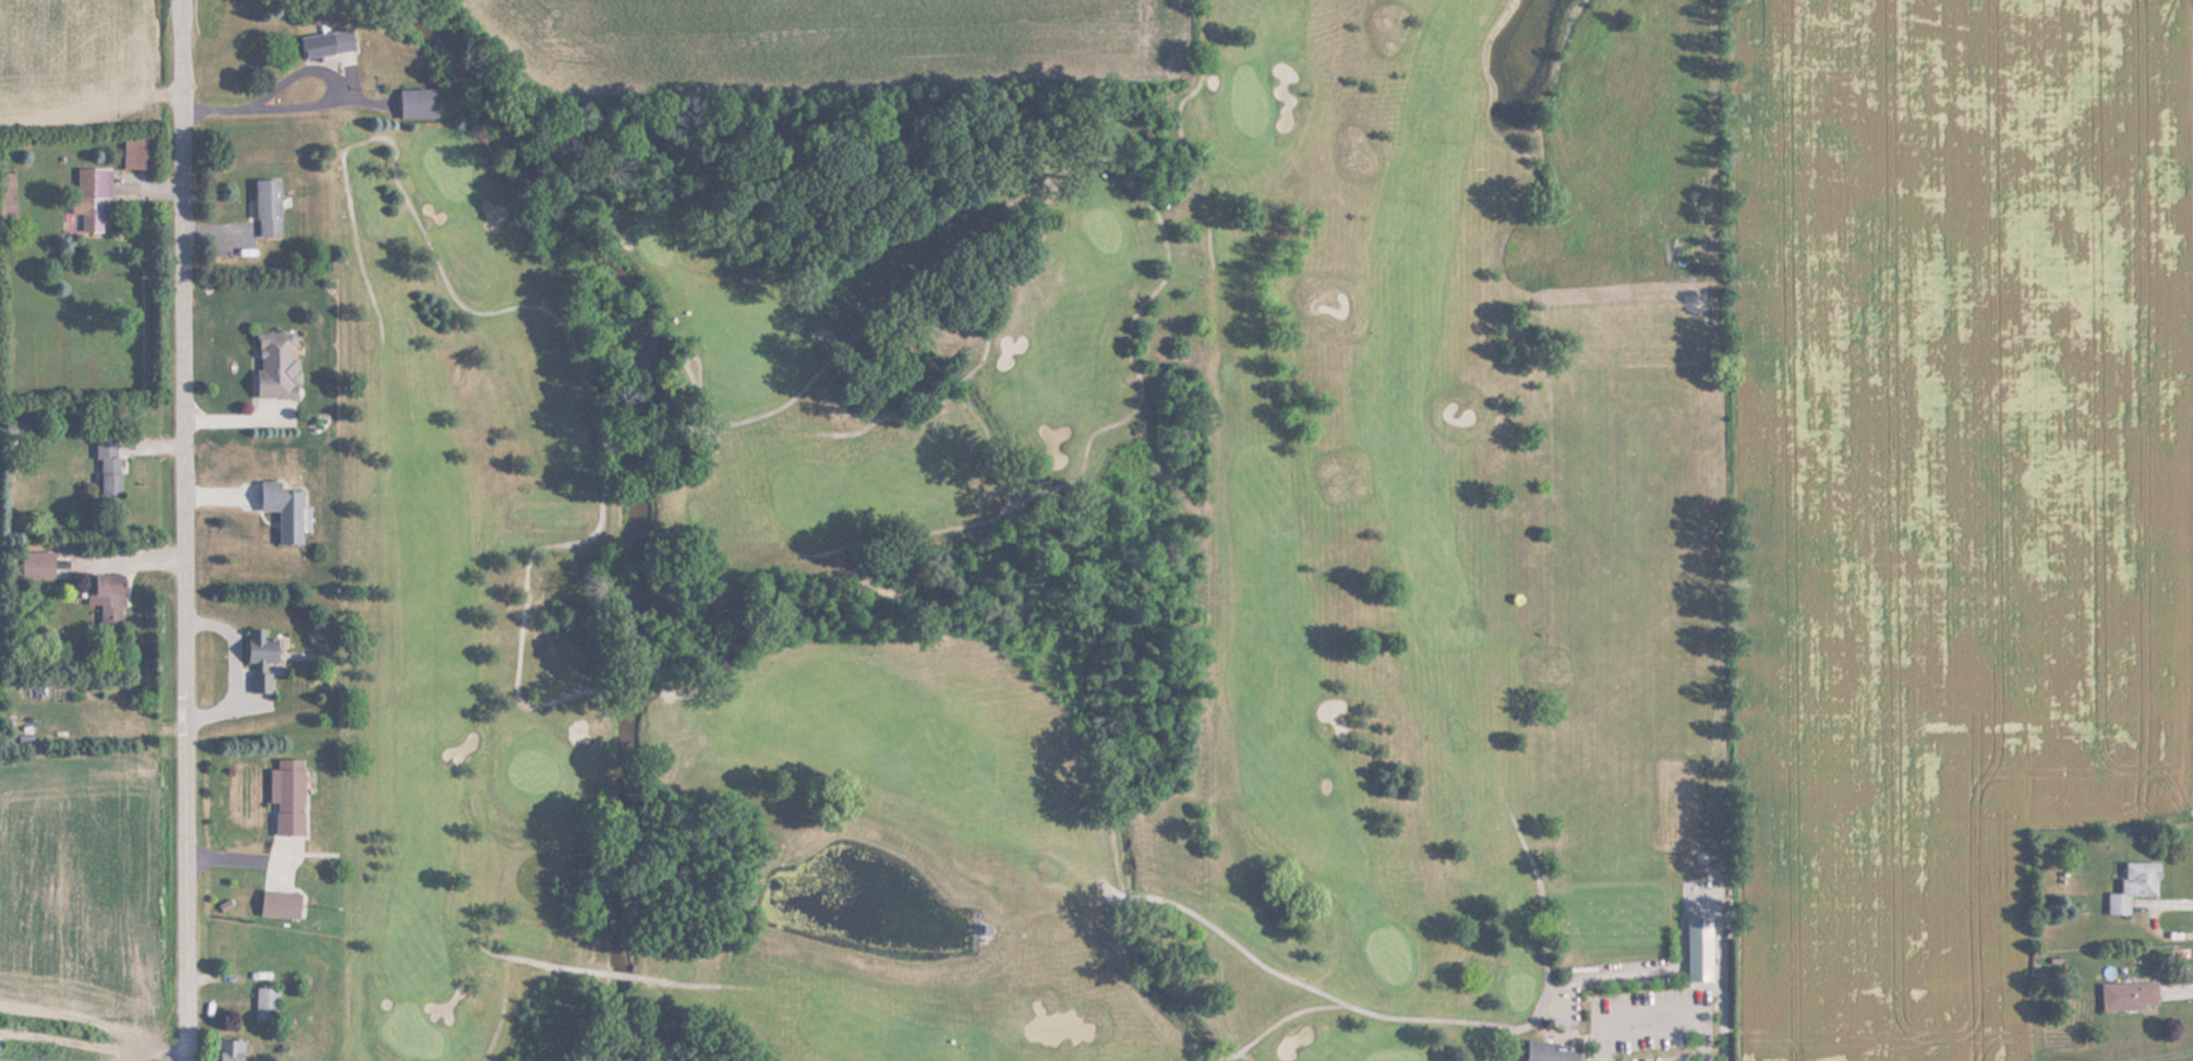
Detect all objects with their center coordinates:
building: (326, 44)
building: (417, 104)
building: (8, 195)
building: (91, 197)
building: (267, 209)
building: (274, 365)
building: (107, 465)
building: (281, 508)
road: (186, 530)
park: (1056, 562)
building: (106, 599)
building: (260, 656)
building: (286, 794)
building: (2133, 884)
building: (278, 903)
building: (1699, 949)
building: (2129, 994)
building: (265, 1005)
parking lot: (1649, 1048)
building: (229, 1050)
building: (1549, 1051)

